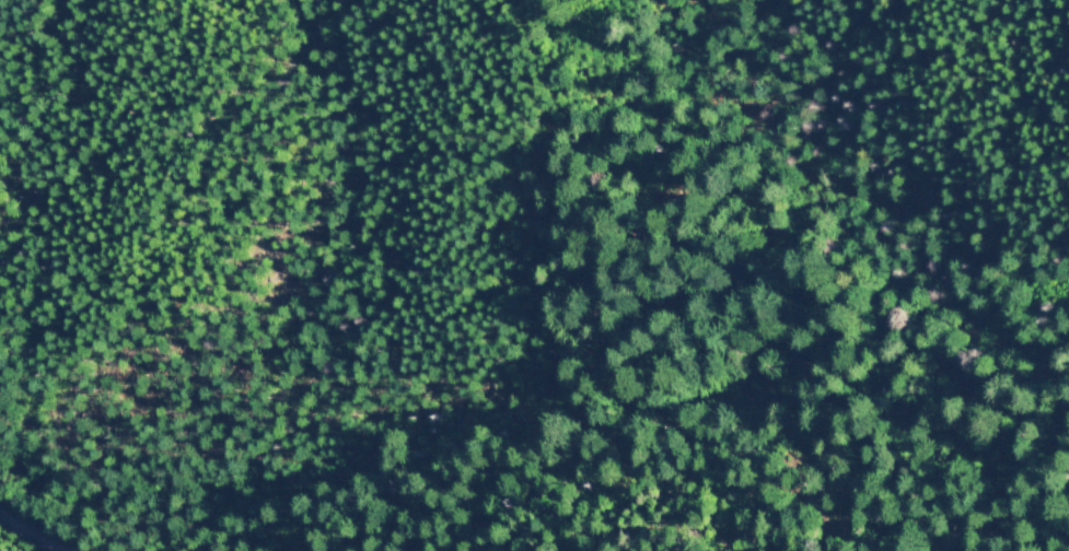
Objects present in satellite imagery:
road: (32, 537)

